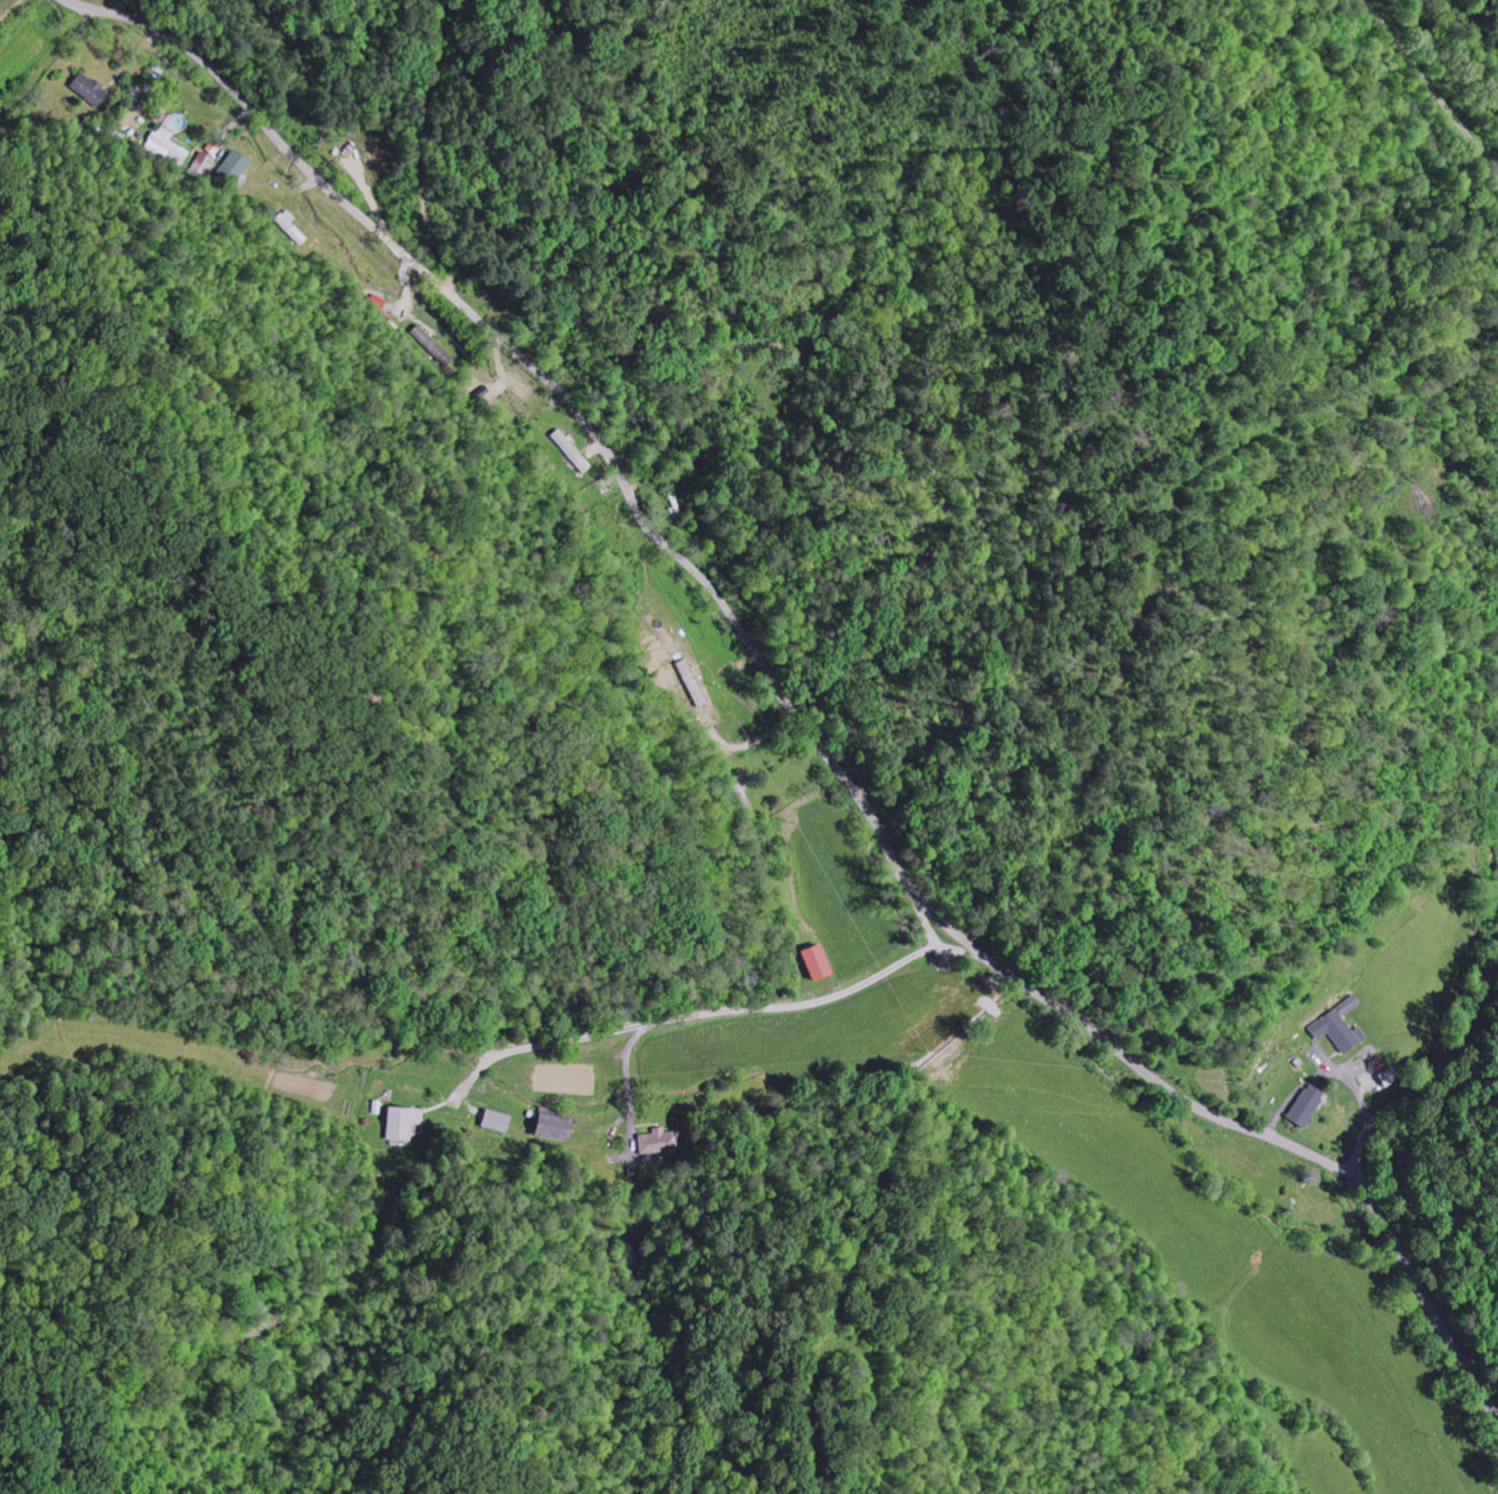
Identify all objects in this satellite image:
building: (90, 89)
building: (169, 146)
building: (235, 169)
road: (792, 705)
road: (922, 915)
building: (817, 962)
road: (719, 1014)
building: (1340, 1025)
road: (1426, 1065)
building: (1308, 1105)
building: (500, 1120)
building: (403, 1121)
building: (556, 1126)
building: (661, 1141)

